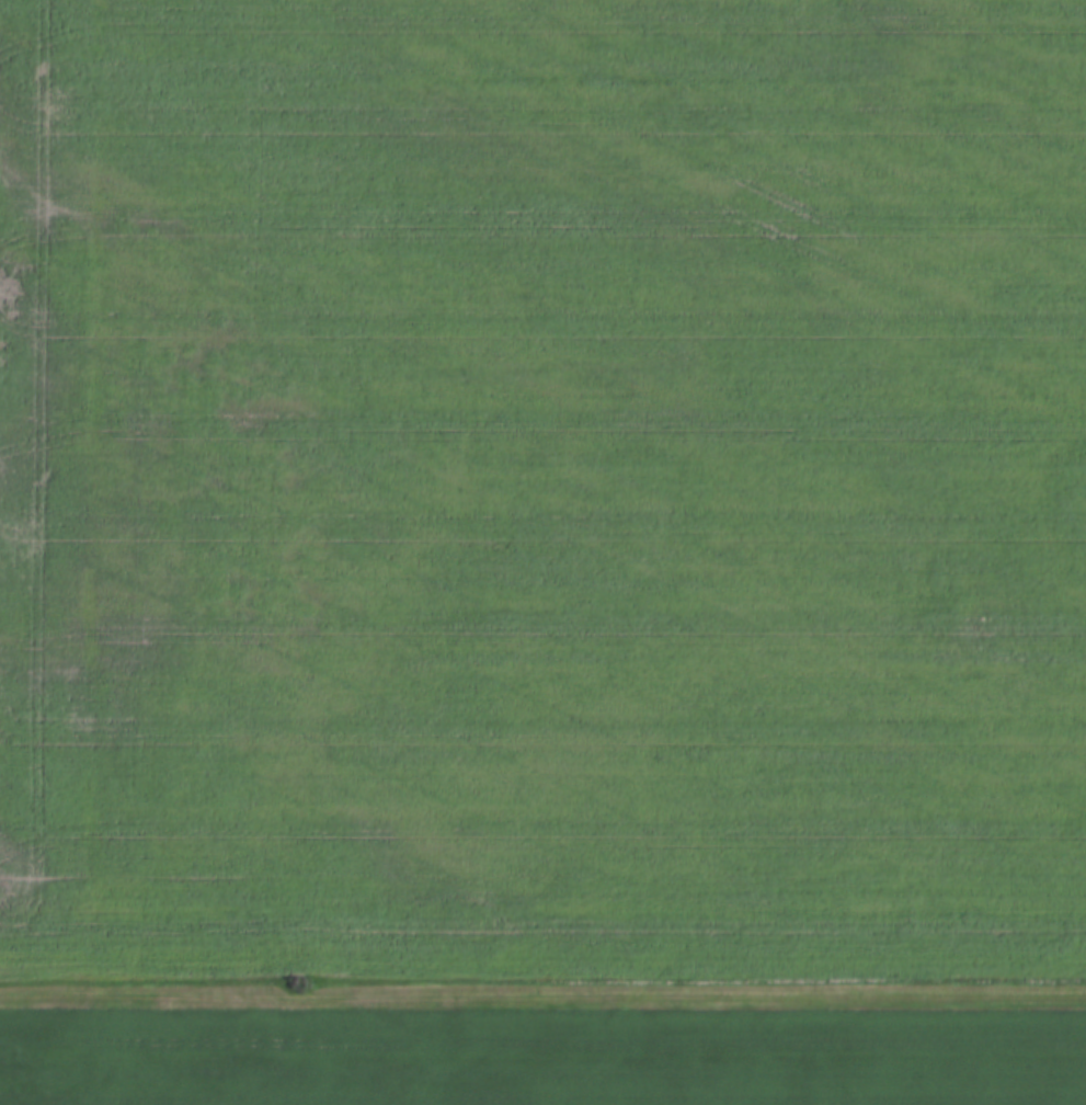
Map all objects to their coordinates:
road: (542, 996)

